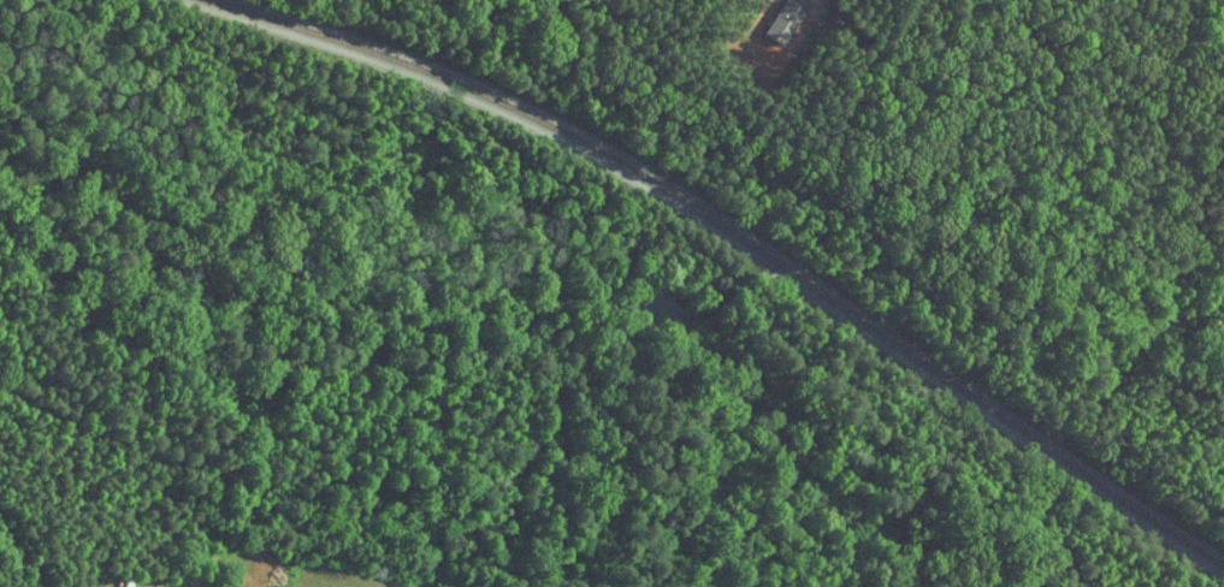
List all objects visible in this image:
railway: (739, 237)

